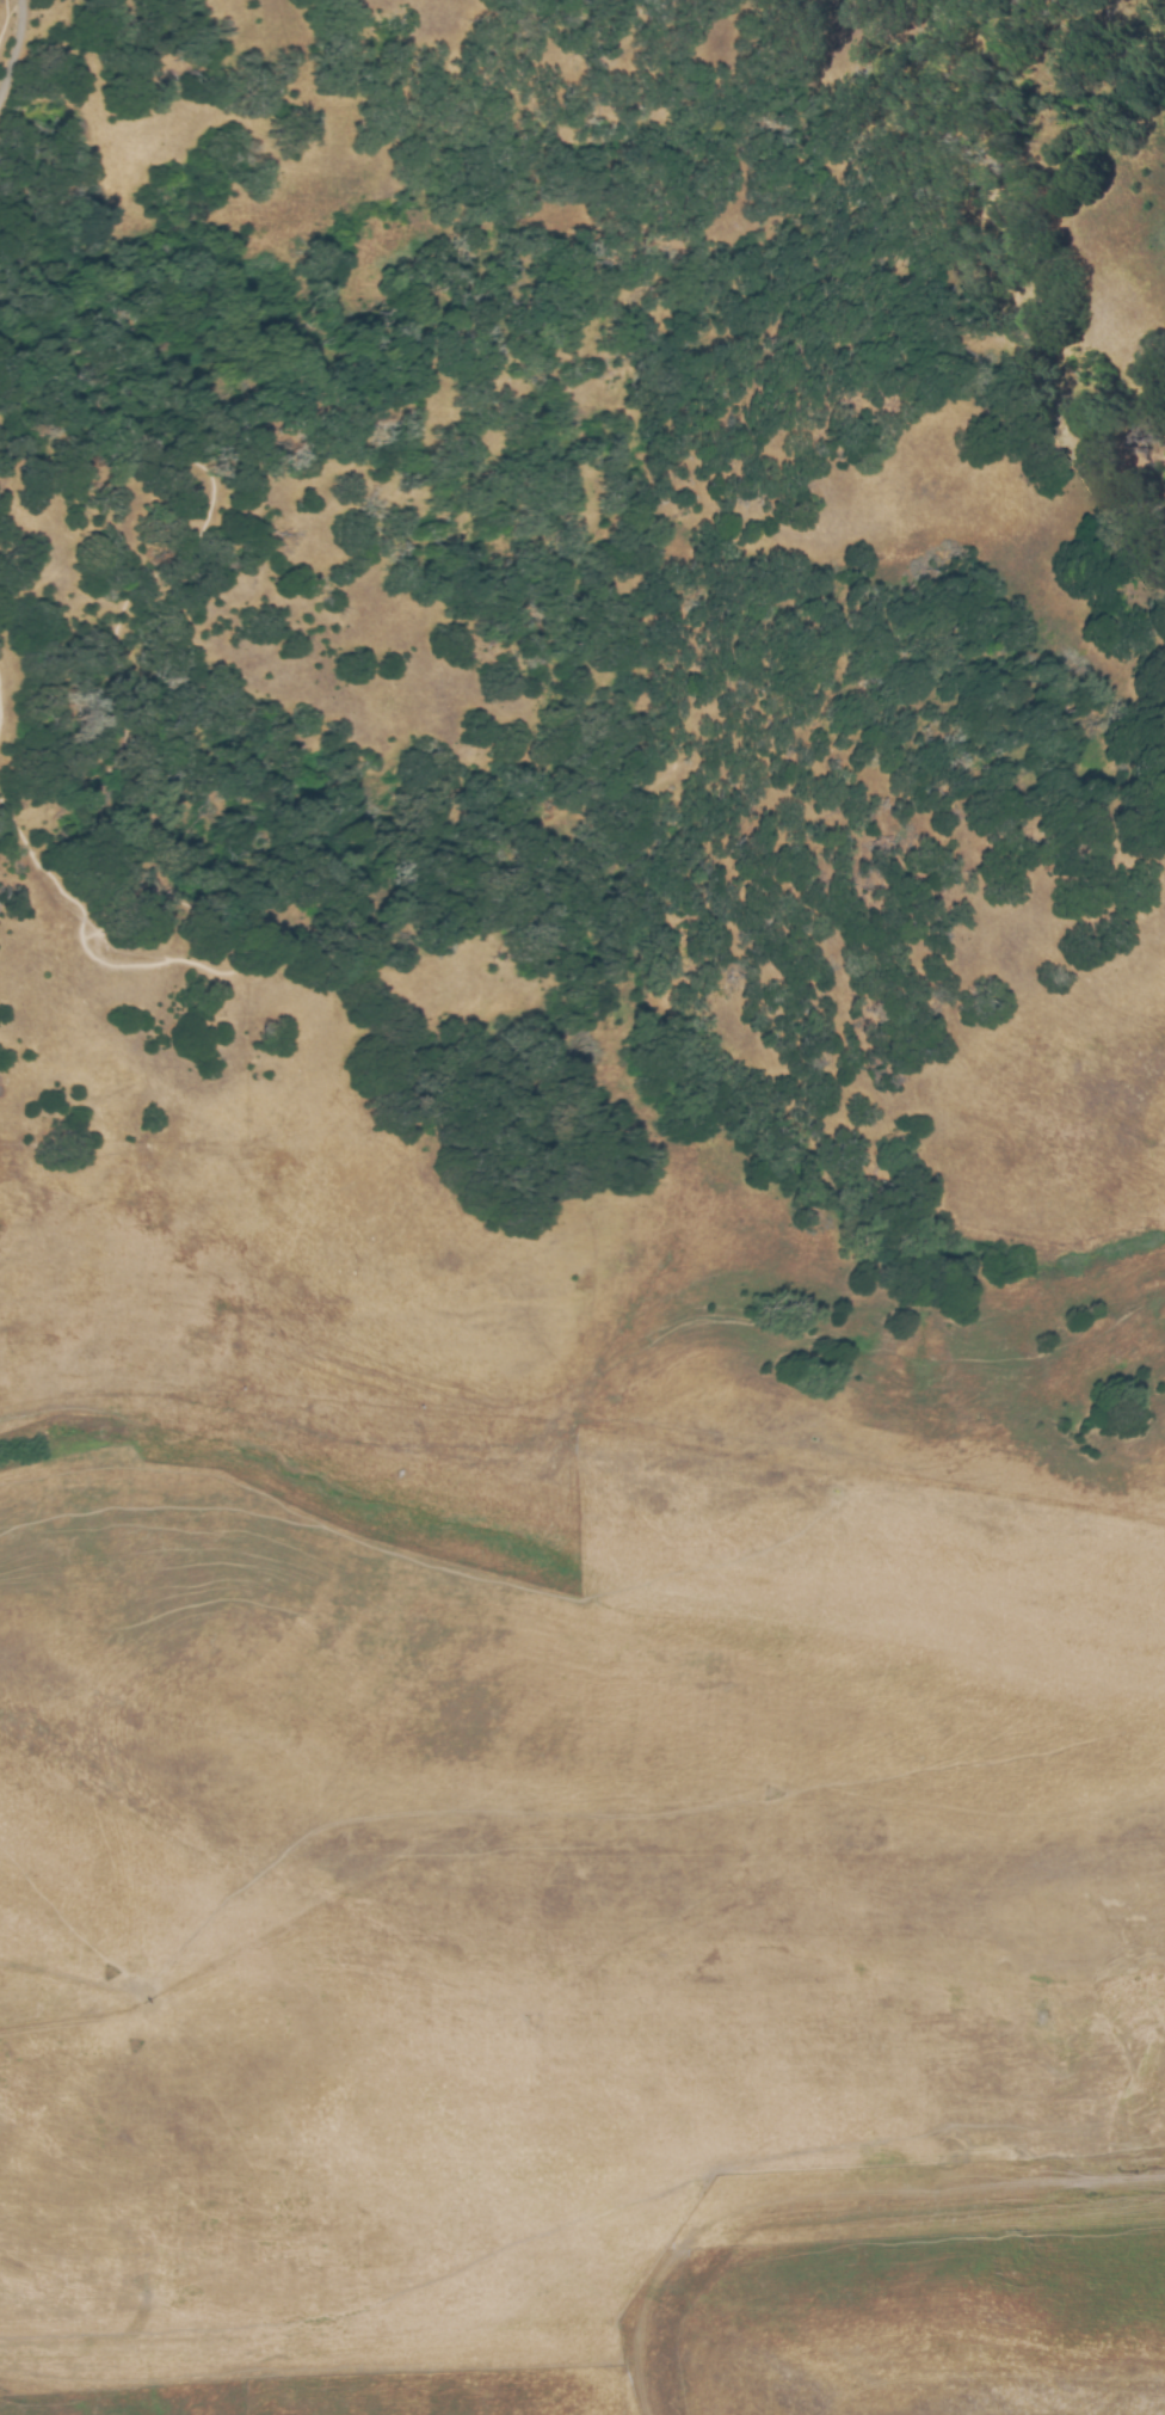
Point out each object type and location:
road: (2, 16)
road: (11, 47)
park: (127, 627)
road: (123, 756)

